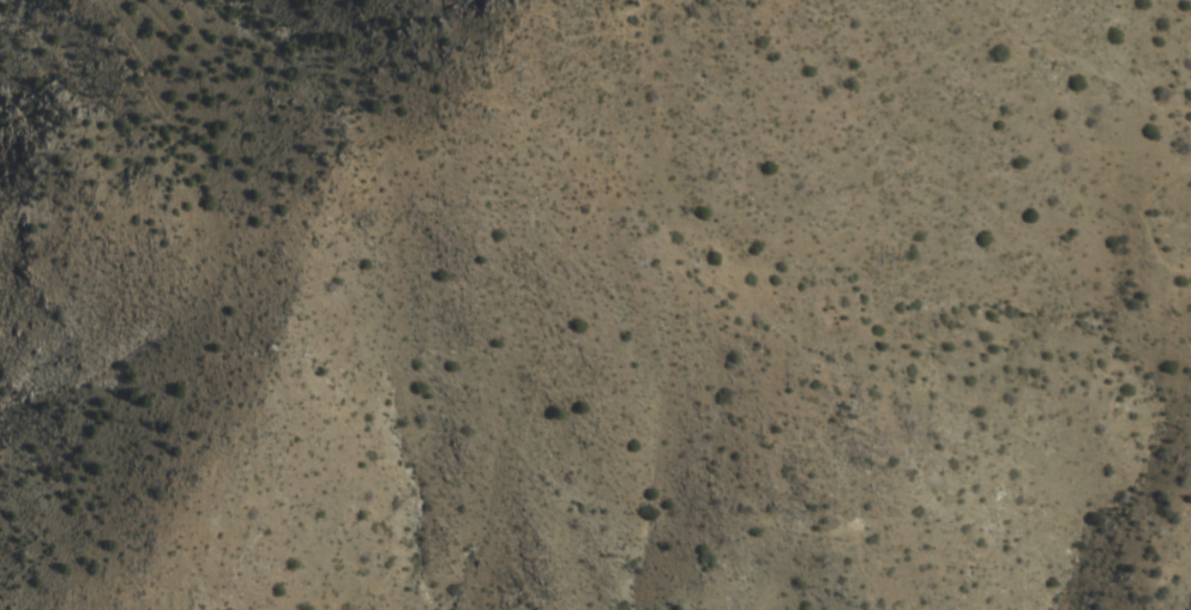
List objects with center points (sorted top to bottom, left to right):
road: (620, 11)
road: (1141, 216)

